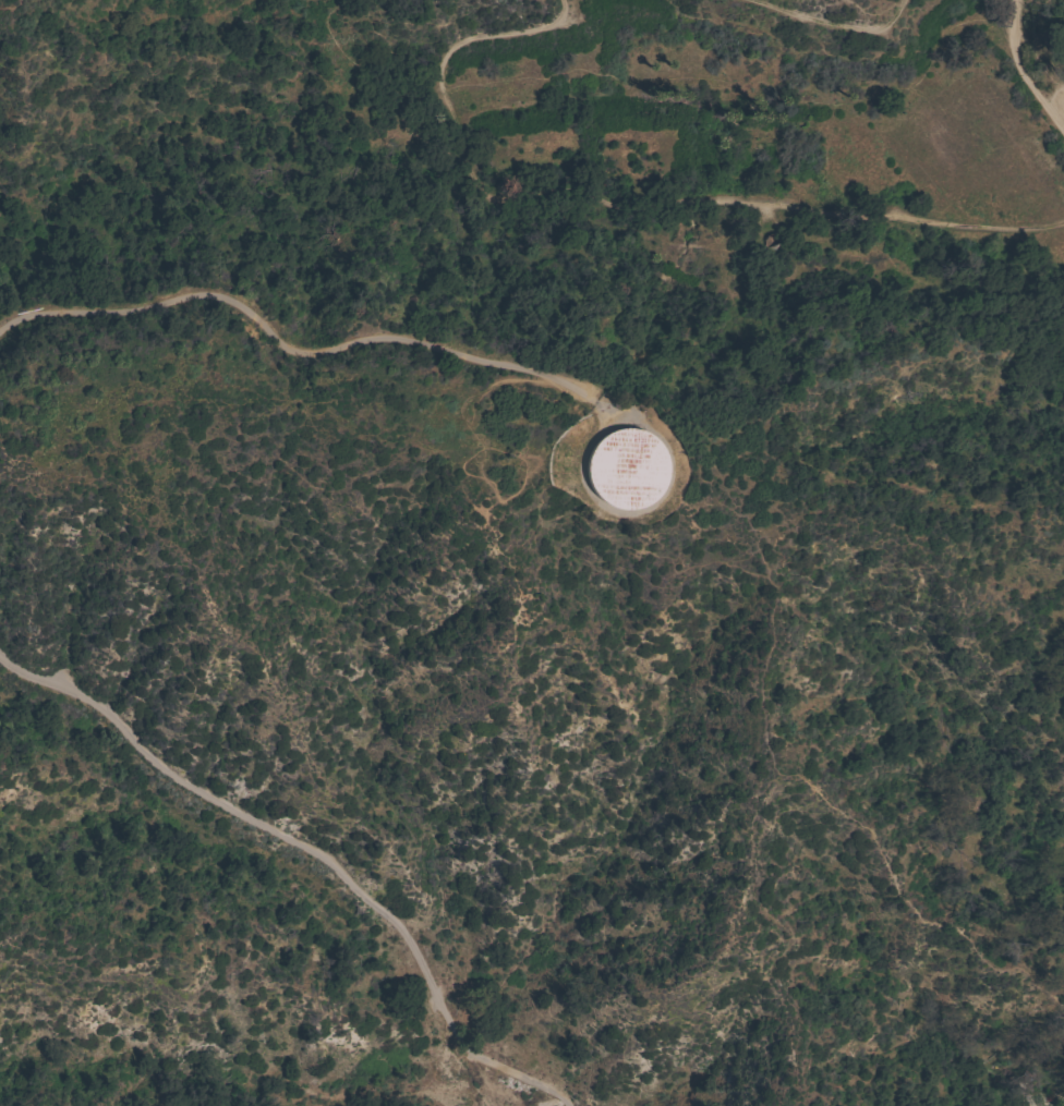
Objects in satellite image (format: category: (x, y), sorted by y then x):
road: (9, 3)
road: (833, 21)
road: (1025, 69)
road: (384, 86)
road: (1063, 124)
road: (629, 199)
road: (290, 351)
building: (625, 467)
storage tank: (625, 467)
road: (314, 856)

